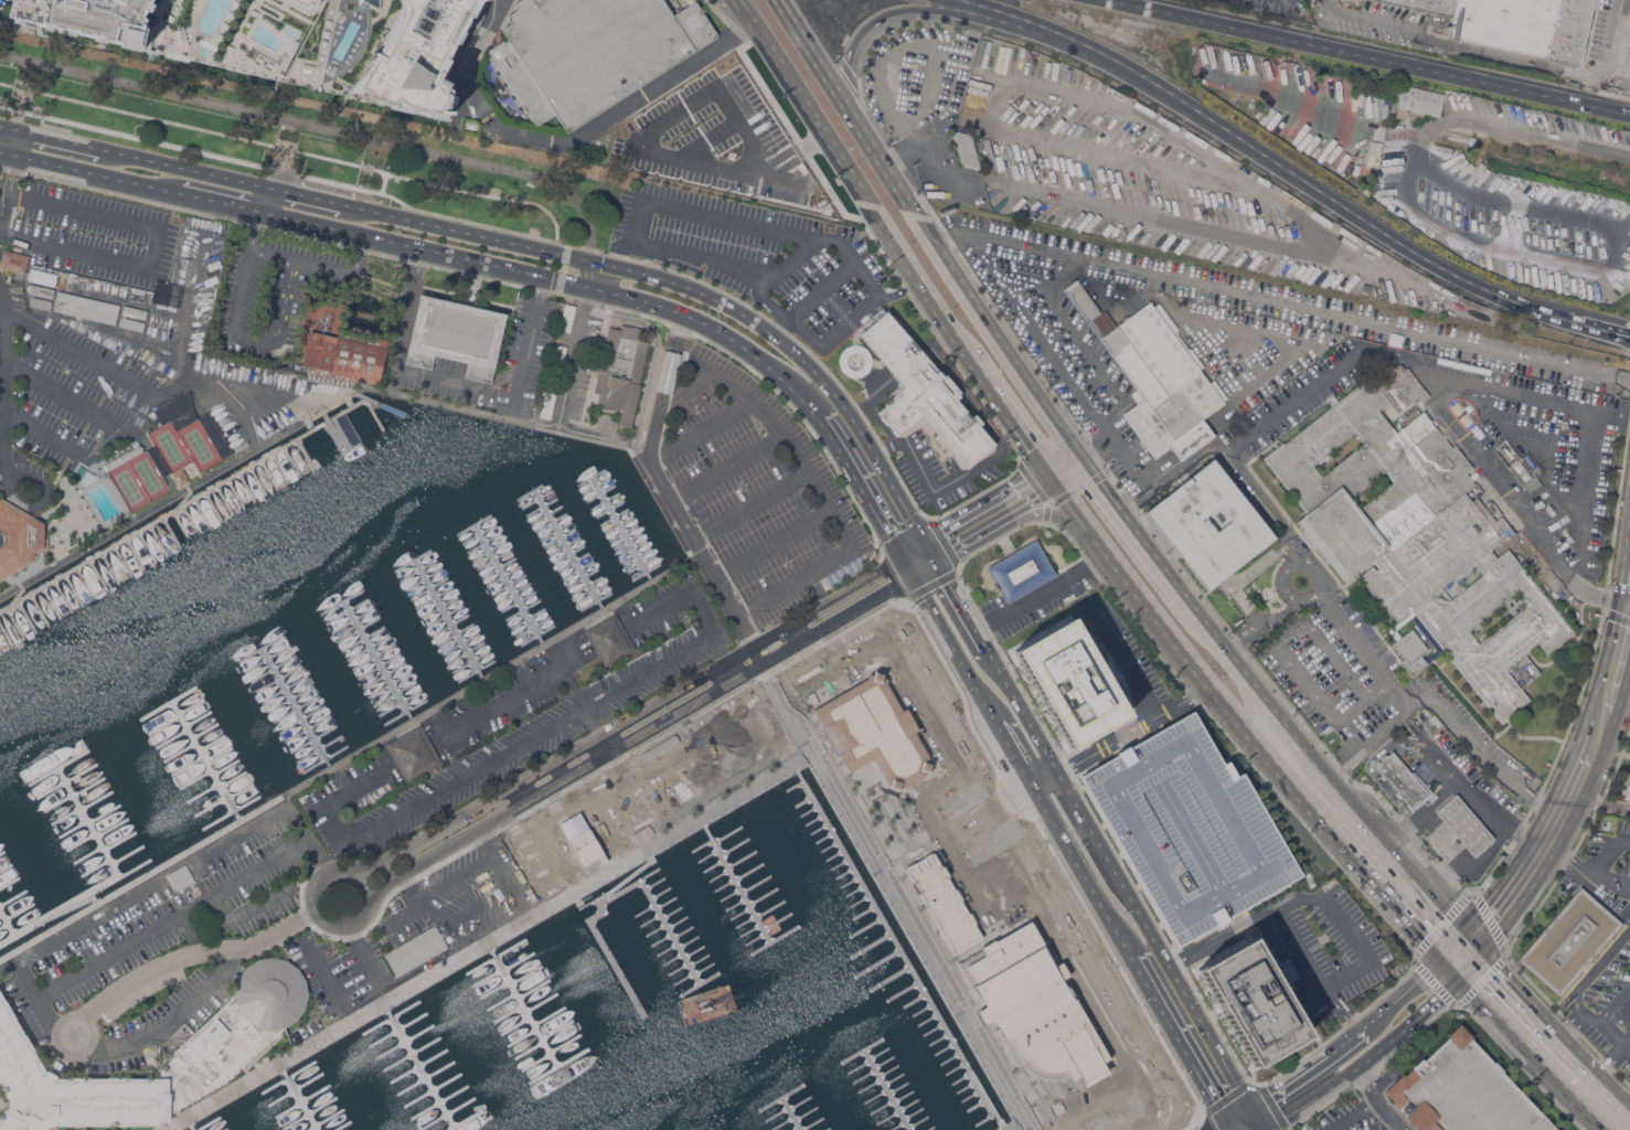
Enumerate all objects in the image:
parking lot: (512, 0)
building: (1429, 4)
building: (301, 9)
road: (884, 14)
building: (84, 19)
building: (1506, 23)
building: (1573, 31)
building: (1629, 44)
parking lot: (1608, 45)
road: (905, 47)
building: (385, 50)
building: (590, 52)
road: (1498, 53)
road: (1367, 58)
road: (1620, 66)
building: (684, 99)
building: (1420, 99)
road: (846, 107)
road: (141, 115)
road: (668, 117)
road: (316, 125)
road: (8, 127)
road: (1416, 132)
park: (284, 138)
road: (58, 139)
road: (709, 139)
road: (12, 141)
road: (566, 143)
road: (492, 147)
building: (966, 148)
road: (4, 152)
road: (792, 153)
building: (989, 153)
road: (1260, 153)
road: (252, 162)
road: (182, 167)
road: (844, 168)
road: (7, 170)
road: (92, 173)
road: (778, 179)
road: (383, 182)
road: (1, 185)
road: (436, 185)
road: (1233, 185)
road: (2, 188)
road: (305, 194)
road: (1491, 200)
road: (1, 201)
road: (215, 201)
road: (641, 206)
road: (483, 224)
road: (446, 227)
parking lot: (88, 233)
road: (828, 238)
road: (949, 238)
road: (399, 242)
road: (155, 244)
road: (578, 246)
road: (615, 247)
road: (588, 254)
road: (567, 255)
parking lot: (759, 259)
traffic signals: (588, 260)
building: (14, 263)
road: (597, 263)
road: (319, 266)
road: (562, 267)
road: (587, 273)
building: (43, 277)
road: (564, 280)
traffic signals: (586, 286)
road: (898, 289)
building: (41, 290)
parking lot: (276, 291)
toll booth: (894, 291)
building: (167, 292)
road: (585, 292)
road: (571, 296)
railway: (1280, 298)
road: (1119, 301)
building: (41, 302)
road: (1289, 303)
building: (86, 307)
road: (773, 307)
road: (188, 308)
road: (169, 310)
road: (735, 310)
building: (135, 311)
road: (405, 316)
building: (131, 322)
road: (235, 324)
parking lot: (1206, 326)
road: (1597, 326)
road: (716, 329)
road: (805, 329)
road: (1249, 330)
building: (455, 334)
road: (999, 337)
road: (1082, 339)
road: (529, 340)
road: (151, 343)
building: (339, 343)
road: (654, 353)
road: (1234, 354)
road: (1400, 354)
road: (1056, 359)
road: (571, 360)
building: (854, 360)
road: (94, 361)
parking lot: (503, 362)
parking lot: (571, 369)
building: (621, 370)
building: (1157, 375)
road: (1623, 381)
road: (460, 383)
road: (686, 385)
road: (663, 387)
road: (252, 391)
building: (925, 393)
parking lot: (1306, 393)
road: (66, 396)
parking lot: (63, 401)
pier: (377, 403)
road: (1292, 405)
road: (1001, 409)
pier: (375, 414)
road: (1587, 417)
road: (1, 418)
pier: (333, 429)
road: (2, 430)
road: (589, 430)
road: (702, 431)
road: (44, 435)
road: (630, 439)
park: (170, 446)
park: (196, 446)
road: (1100, 449)
pier: (307, 455)
road: (1014, 455)
building: (124, 457)
traffic signals: (1085, 458)
pier: (292, 461)
road: (988, 461)
parking lot: (1534, 463)
road: (727, 466)
pier: (281, 467)
road: (1067, 469)
pier: (270, 473)
building: (181, 476)
pier: (590, 476)
road: (1173, 477)
pier: (259, 480)
road: (877, 480)
traffic signals: (1051, 481)
park: (137, 482)
pier: (595, 483)
pier: (247, 487)
parking lot: (757, 489)
pier: (529, 491)
road: (1033, 491)
pier: (599, 492)
road: (1059, 492)
pier: (236, 493)
pier: (185, 498)
pier: (536, 498)
road: (827, 499)
pier: (225, 500)
pier: (604, 500)
road: (750, 503)
pier: (182, 505)
pier: (541, 505)
road: (1523, 505)
pier: (214, 507)
pier: (609, 507)
road: (150, 511)
road: (1042, 511)
pier: (203, 513)
pier: (545, 513)
pier: (612, 515)
pier: (190, 518)
pier: (551, 521)
road: (1277, 521)
pier: (181, 523)
pier: (618, 523)
pier: (472, 524)
building: (1208, 524)
pier: (554, 529)
pier: (620, 529)
road: (968, 529)
pier: (622, 531)
pier: (172, 532)
pier: (478, 532)
building: (1416, 533)
pier: (558, 536)
building: (19, 537)
pier: (159, 540)
pier: (627, 540)
pier: (482, 542)
road: (773, 542)
pier: (563, 544)
road: (694, 544)
pier: (631, 546)
pier: (148, 547)
road: (1151, 547)
pier: (488, 548)
pier: (567, 550)
pier: (136, 553)
pier: (569, 553)
pier: (637, 555)
road: (44, 556)
pier: (492, 556)
pier: (412, 559)
pier: (572, 559)
traffic signals: (920, 559)
pier: (124, 561)
pier: (640, 562)
pier: (498, 566)
pier: (111, 567)
pier: (578, 567)
pier: (417, 568)
pier: (644, 571)
building: (1021, 571)
pier: (502, 574)
road: (1283, 574)
pier: (98, 576)
pier: (582, 576)
pier: (423, 577)
pier: (86, 583)
pier: (507, 584)
pier: (508, 584)
pier: (586, 584)
pier: (428, 585)
pier: (75, 589)
pier: (512, 591)
pier: (590, 591)
pier: (434, 595)
pier: (64, 596)
pier: (14, 597)
road: (1036, 597)
pier: (516, 599)
pier: (595, 599)
road: (835, 599)
road: (1629, 599)
pier: (341, 600)
pier: (53, 603)
pier: (439, 604)
pier: (521, 607)
road: (1629, 607)
pier: (41, 609)
pier: (347, 609)
road: (1330, 612)
pier: (444, 614)
road: (844, 615)
pier: (526, 616)
pier: (28, 617)
pier: (447, 617)
pier: (351, 618)
pier: (17, 623)
pier: (449, 623)
road: (959, 625)
building: (1399, 625)
pier: (531, 626)
pier: (356, 628)
pier: (456, 632)
pier: (7, 633)
pier: (536, 633)
pier: (362, 637)
building: (610, 638)
pier: (460, 641)
road: (1175, 646)
building: (1409, 646)
pier: (260, 647)
pier: (367, 647)
road: (755, 649)
pier: (1, 651)
pier: (464, 651)
pier: (372, 655)
road: (898, 657)
road: (1123, 657)
road: (1285, 657)
pier: (266, 658)
pier: (376, 659)
pier: (469, 660)
road: (722, 660)
pier: (377, 664)
pier: (271, 668)
pier: (475, 669)
pier: (383, 674)
pier: (277, 678)
road: (547, 678)
building: (1069, 682)
pier: (387, 683)
road: (1610, 683)
pier: (284, 686)
parking lot: (1370, 690)
pier: (393, 692)
pier: (183, 693)
pier: (289, 696)
pier: (398, 701)
pier: (294, 706)
pier: (295, 706)
pier: (404, 710)
pier: (300, 717)
parking lot: (515, 722)
pier: (307, 726)
road: (1031, 726)
road: (1132, 728)
pier: (311, 737)
building: (873, 737)
road: (1011, 738)
road: (1368, 739)
pier: (195, 743)
road: (525, 746)
pier: (318, 747)
road: (1481, 749)
building: (414, 753)
road: (755, 756)
pier: (73, 757)
pier: (323, 758)
road: (1440, 760)
road: (1371, 761)
road: (1047, 778)
building: (1400, 778)
building: (1627, 786)
road: (1448, 788)
road: (1572, 788)
road: (1346, 790)
road: (1598, 803)
pier: (79, 806)
road: (999, 806)
building: (1463, 823)
gas station: (1463, 823)
building: (1190, 828)
parking lot: (1190, 828)
road: (1549, 833)
road: (1440, 835)
road: (1525, 835)
pier: (1, 850)
road: (1073, 850)
road: (1606, 856)
road: (1563, 862)
pier: (4, 866)
road: (1472, 870)
road: (1363, 872)
pier: (120, 873)
road: (507, 874)
road: (456, 875)
building: (181, 876)
road: (141, 878)
road: (1607, 881)
pier: (8, 882)
road: (1510, 894)
road: (893, 896)
pier: (12, 897)
pier: (741, 904)
pier: (70, 906)
building: (939, 907)
road: (414, 908)
road: (466, 909)
pier: (1, 910)
pier: (20, 912)
road: (245, 912)
pier: (1, 913)
road: (317, 915)
pier: (46, 916)
pier: (4, 917)
road: (171, 918)
parking lot: (162, 919)
road: (1341, 920)
pier: (3, 925)
pier: (589, 927)
pier: (661, 928)
pier: (11, 929)
road: (1119, 938)
traffic signals: (1478, 940)
parking lot: (413, 941)
road: (1153, 941)
building: (1569, 941)
road: (1458, 949)
building: (416, 950)
pier: (896, 951)
pier: (755, 952)
road: (184, 955)
traffic signals: (1438, 959)
road: (1467, 960)
road: (1601, 964)
road: (1447, 970)
road: (428, 974)
road: (1091, 978)
road: (328, 979)
traffic signals: (1457, 981)
pier: (685, 994)
road: (1403, 994)
building: (1250, 1002)
road: (1613, 1003)
building: (1027, 1005)
pier: (523, 1010)
road: (1341, 1012)
parking lot: (153, 1014)
road: (164, 1023)
road: (343, 1023)
road: (1601, 1025)
road: (1548, 1026)
road: (1578, 1028)
road: (316, 1032)
road: (1179, 1041)
building: (225, 1042)
road: (1627, 1044)
road: (1526, 1055)
road: (1611, 1062)
road: (1365, 1063)
pier: (418, 1072)
road: (1311, 1072)
pier: (886, 1090)
building: (1462, 1091)
parking lot: (1443, 1095)
road: (1379, 1099)
pier: (295, 1101)
road: (1089, 1106)
road: (1629, 1106)
traffic signals: (1251, 1110)
road: (1356, 1115)
pier: (787, 1116)
road: (1239, 1117)
road: (1257, 1120)
traffic signals: (1227, 1124)
road: (1222, 1127)
road: (1228, 1127)
pier: (188, 1128)

